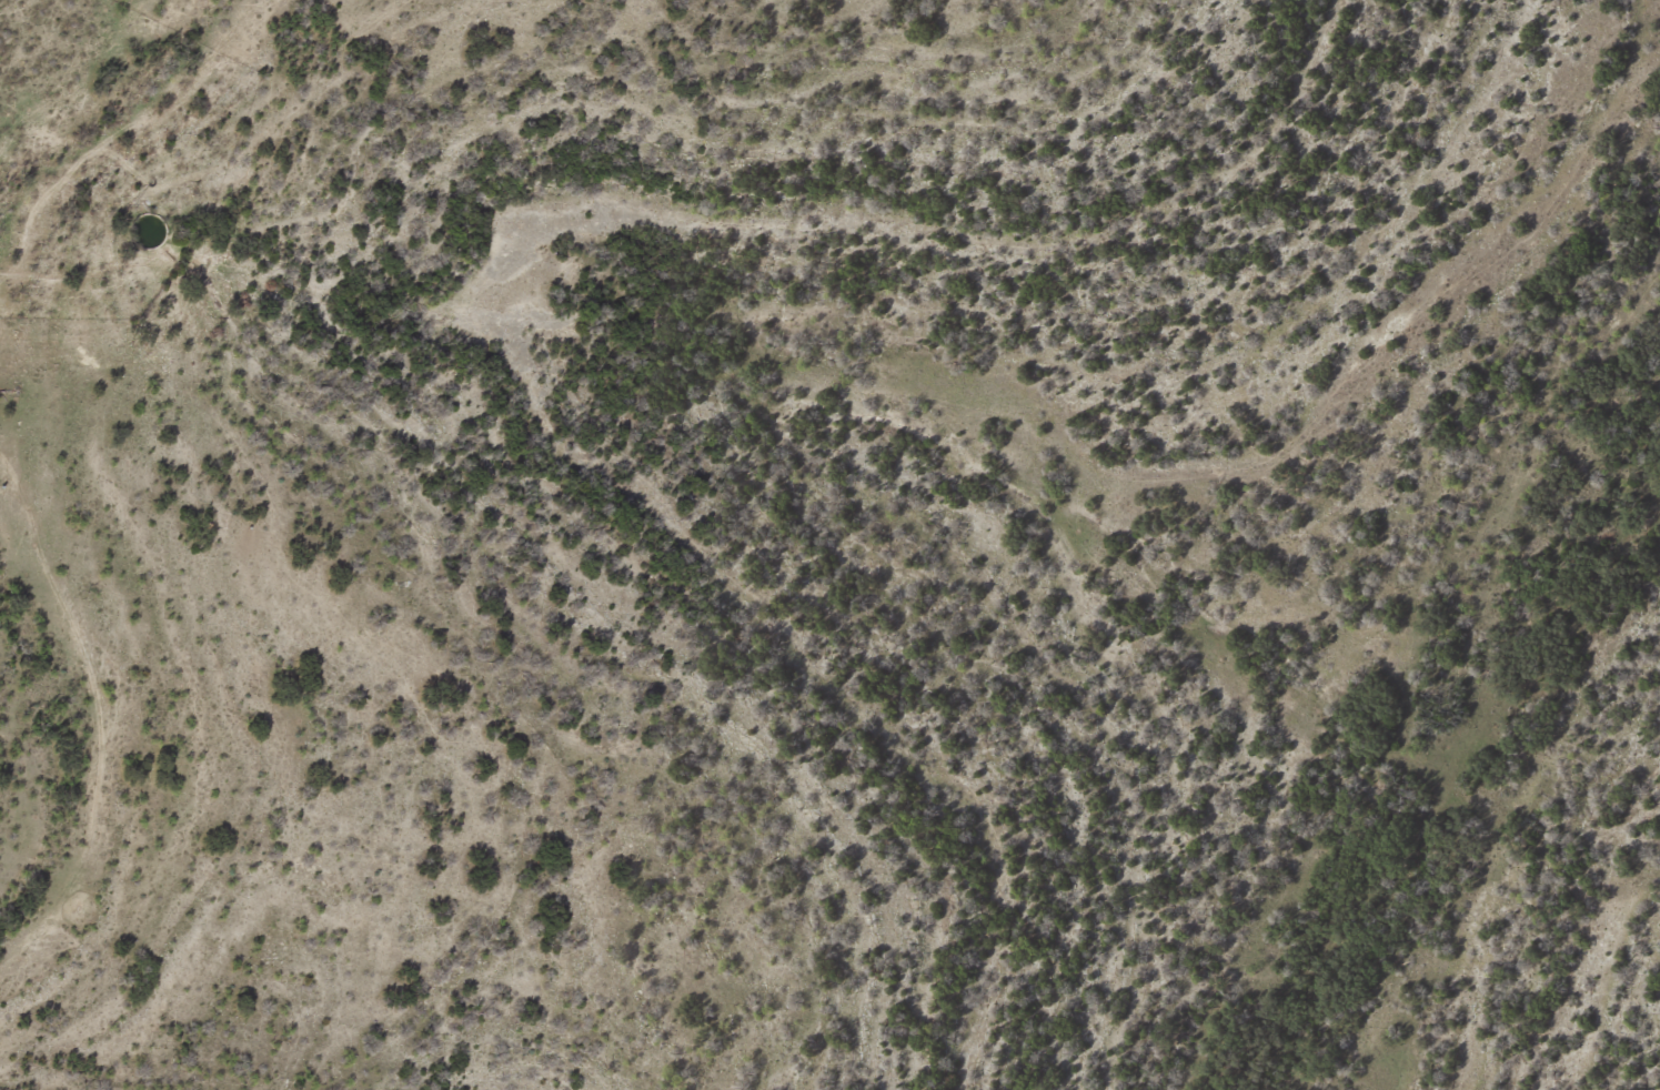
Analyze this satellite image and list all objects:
road: (57, 128)

